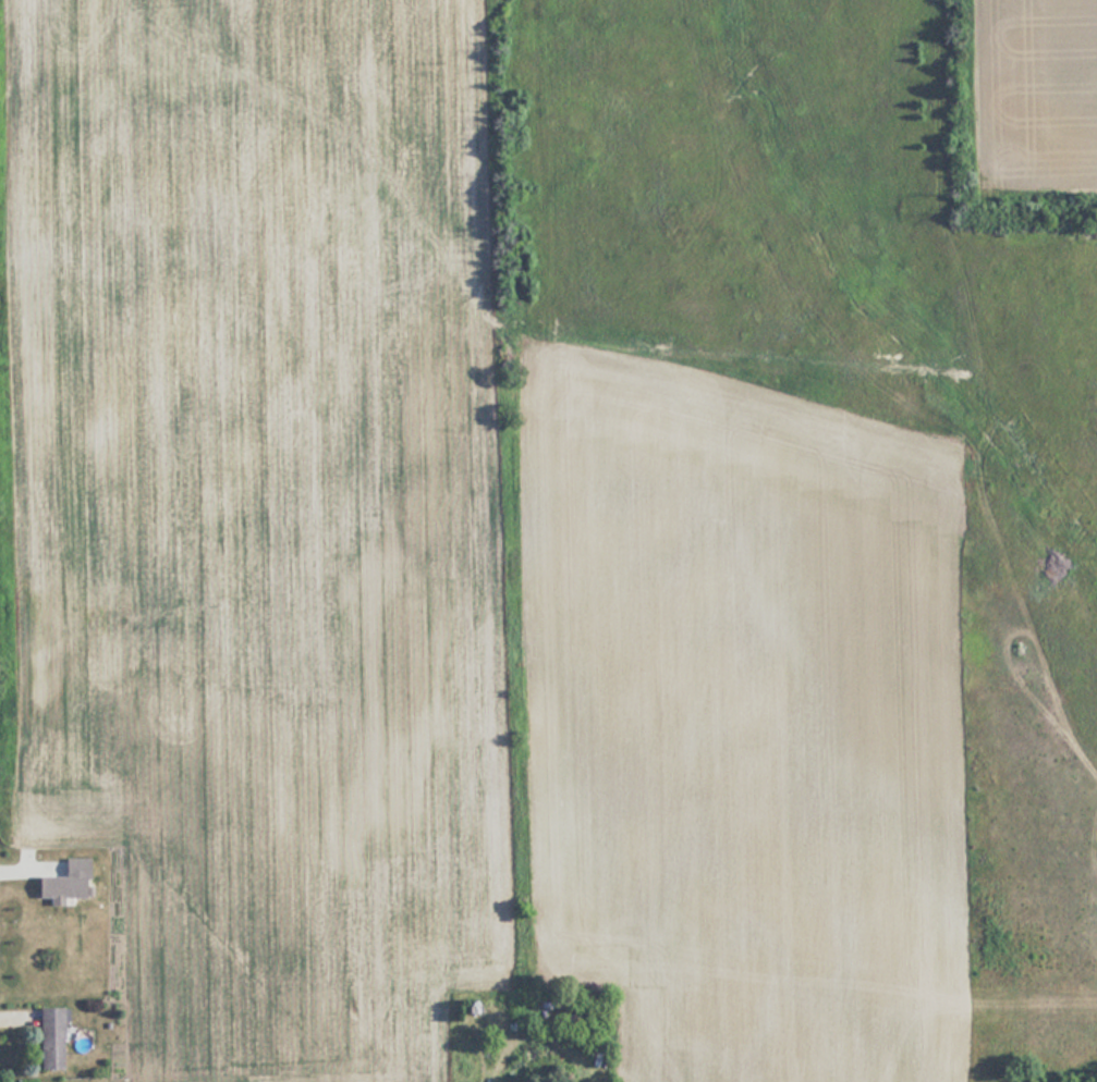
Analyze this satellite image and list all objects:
building: (74, 881)
building: (57, 1037)

